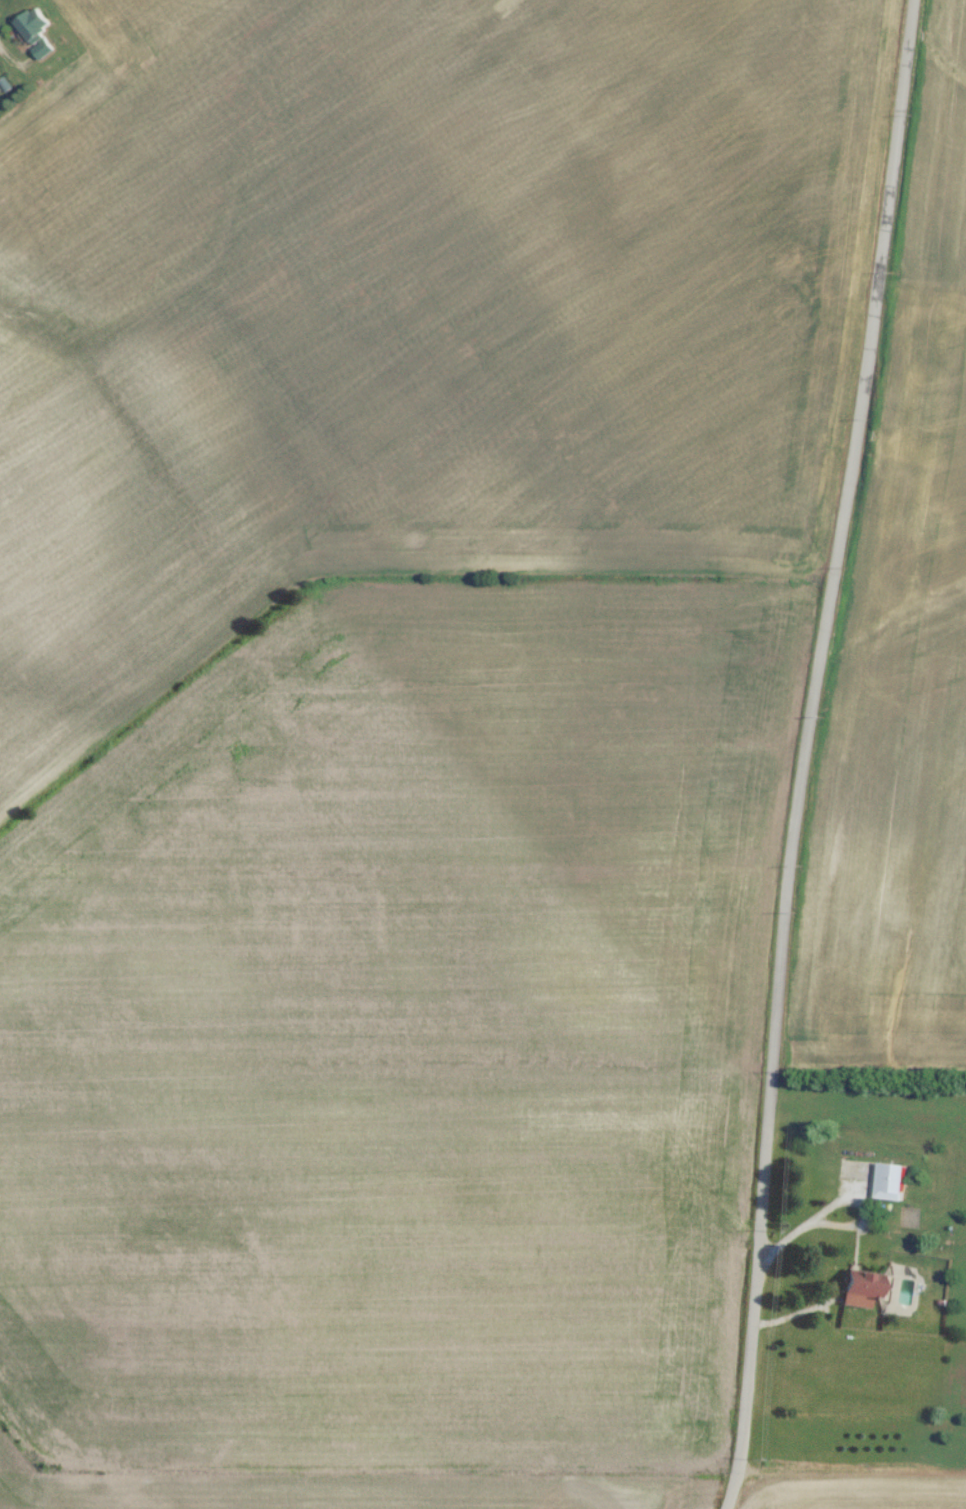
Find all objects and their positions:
building: (35, 30)
road: (8, 55)
road: (806, 734)
building: (861, 1174)
building: (865, 1288)
road: (852, 1473)
road: (732, 1491)

